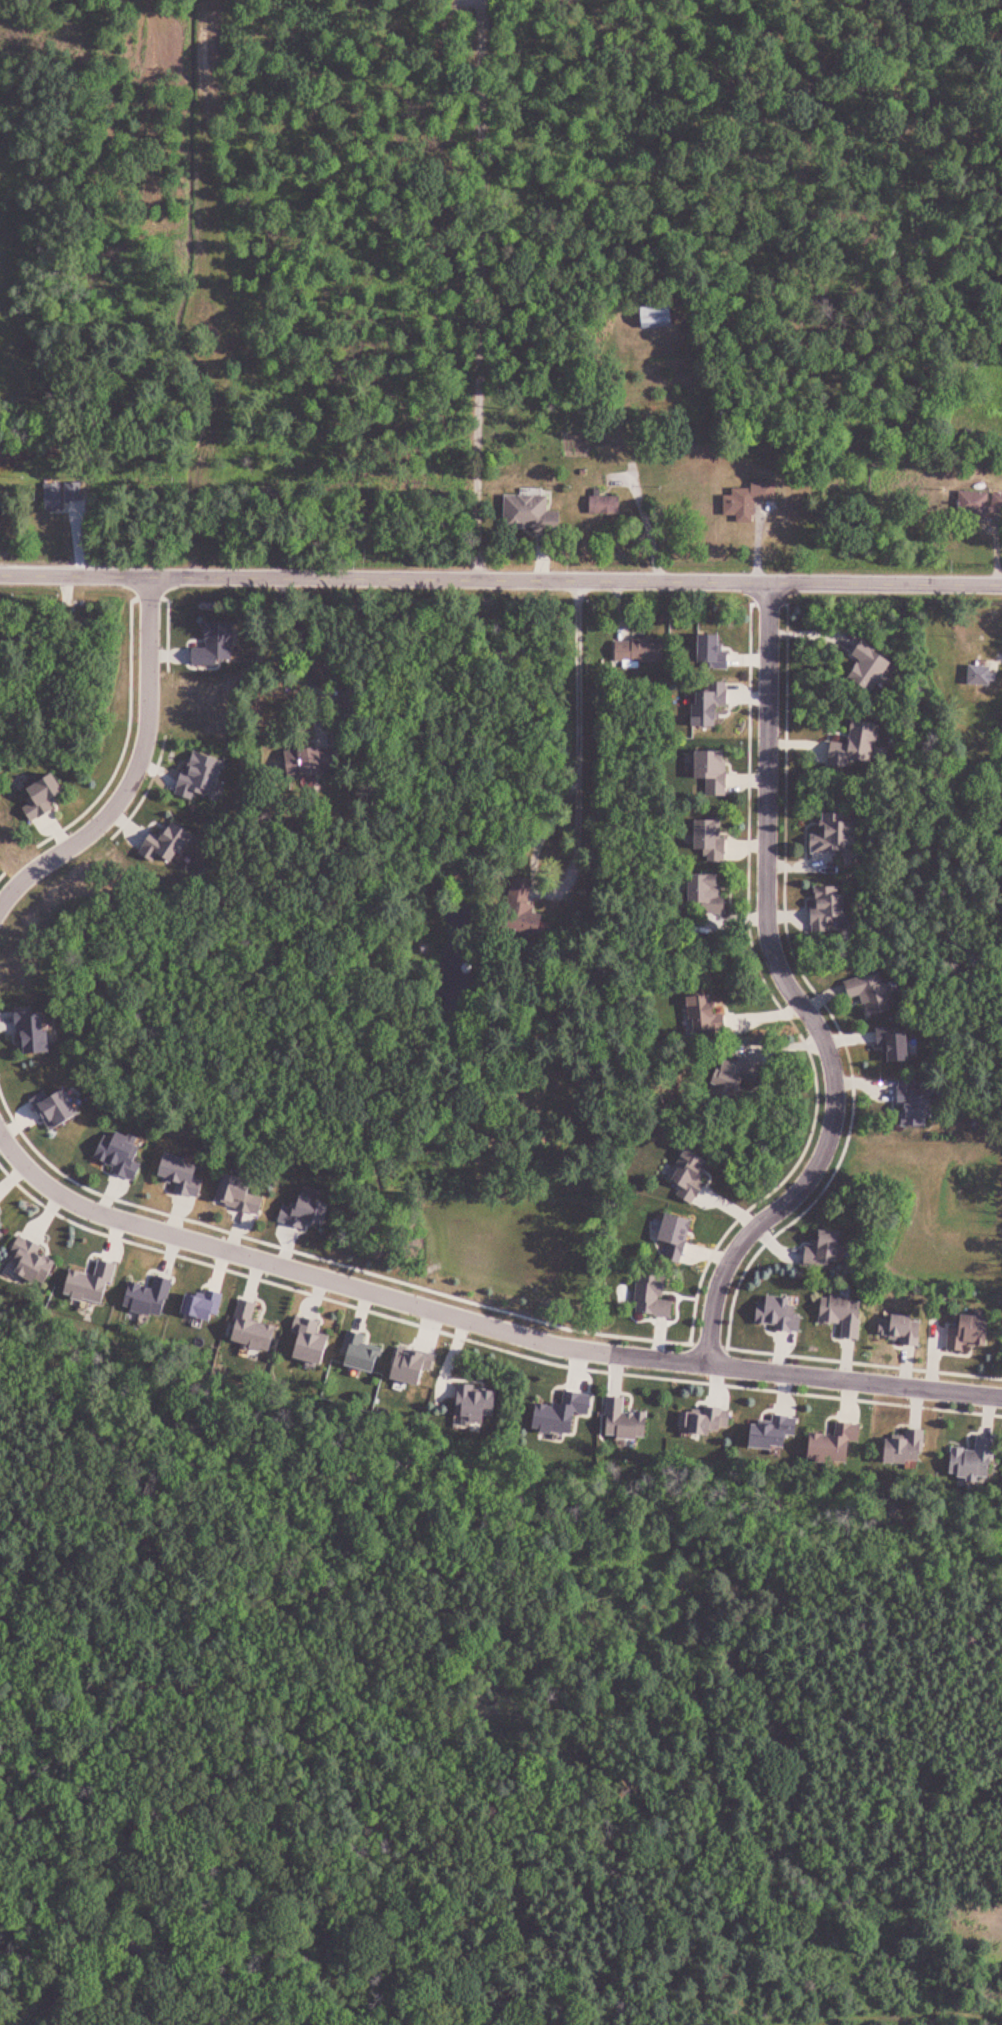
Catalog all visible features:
road: (216, 289)
road: (480, 291)
building: (662, 317)
building: (62, 495)
building: (746, 502)
building: (981, 503)
building: (608, 505)
building: (534, 514)
road: (500, 582)
building: (643, 650)
building: (984, 675)
building: (713, 706)
road: (578, 735)
building: (859, 745)
building: (316, 761)
road: (132, 770)
building: (712, 770)
building: (839, 835)
building: (716, 840)
building: (524, 888)
building: (712, 892)
building: (827, 909)
building: (528, 925)
road: (752, 978)
building: (873, 994)
road: (794, 995)
building: (706, 1014)
building: (741, 1075)
building: (918, 1104)
building: (694, 1176)
building: (679, 1238)
building: (828, 1250)
building: (656, 1298)
building: (781, 1314)
building: (846, 1315)
road: (478, 1319)
building: (905, 1329)
building: (977, 1333)
road: (857, 1348)
building: (629, 1422)
building: (911, 1448)
building: (978, 1461)

